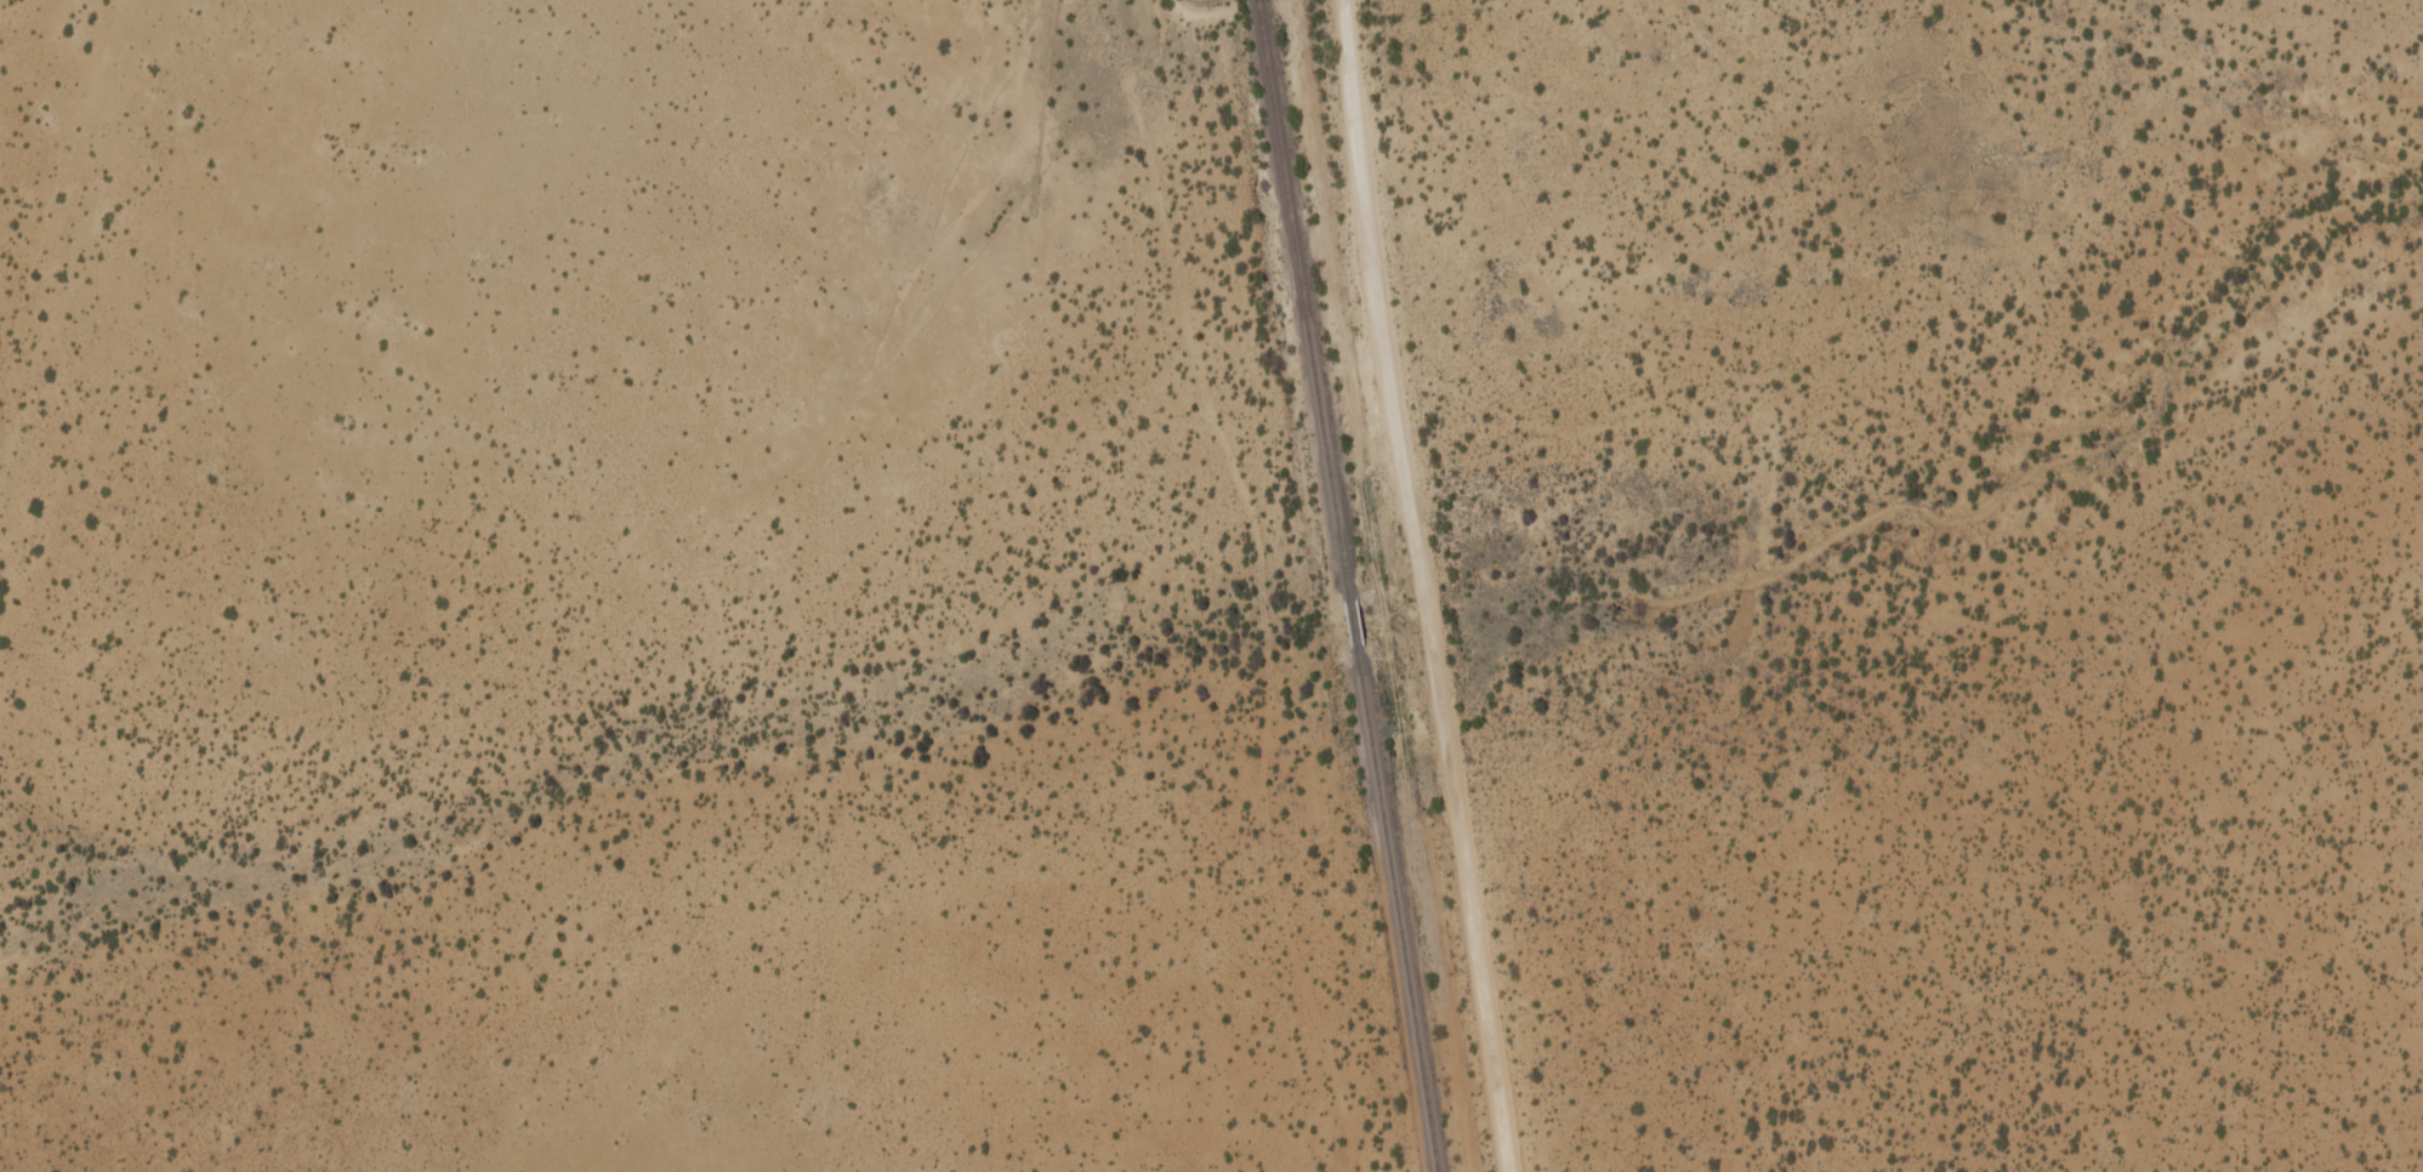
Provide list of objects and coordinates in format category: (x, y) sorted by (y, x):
railway: (1306, 305)
road: (1421, 586)
railway: (1356, 627)
railway: (1398, 908)

